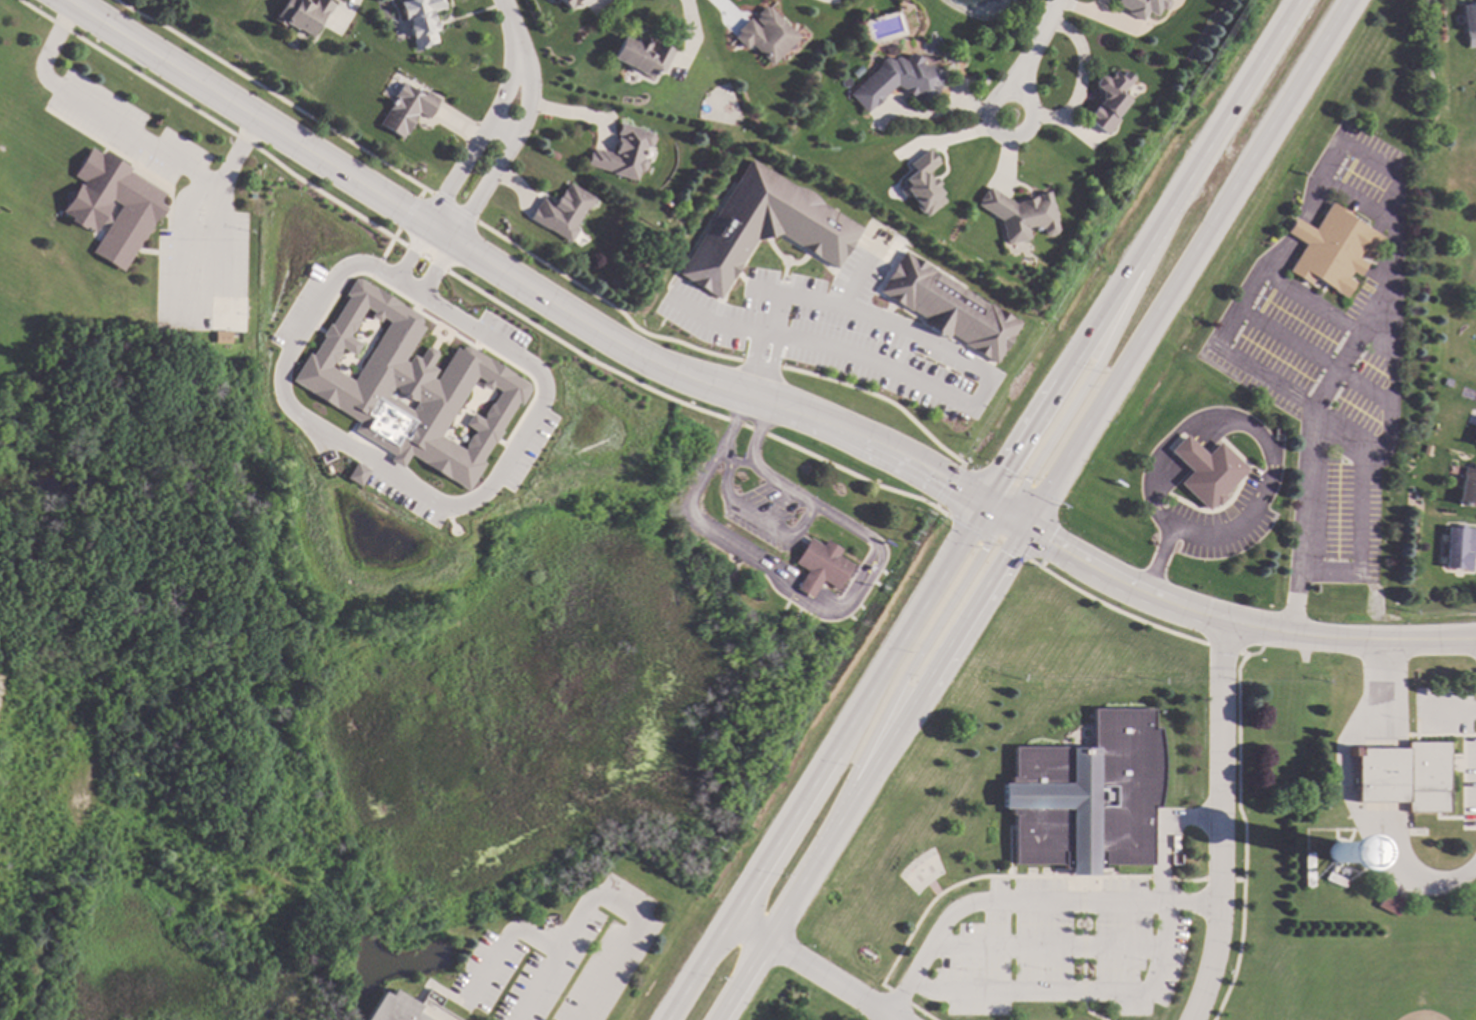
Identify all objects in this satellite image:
building: (566, 2)
building: (1141, 6)
building: (301, 14)
road: (506, 16)
building: (420, 20)
building: (1469, 24)
building: (765, 34)
road: (1033, 48)
building: (642, 55)
building: (896, 80)
road: (271, 94)
building: (1107, 100)
building: (406, 109)
road: (990, 119)
road: (482, 133)
road: (128, 135)
road: (512, 141)
building: (624, 152)
building: (920, 184)
road: (425, 190)
road: (1357, 203)
building: (141, 210)
building: (562, 212)
building: (1018, 214)
building: (764, 227)
road: (1298, 229)
building: (1331, 248)
road: (1137, 251)
road: (1181, 263)
road: (511, 277)
road: (410, 287)
road: (476, 292)
road: (1311, 300)
building: (947, 306)
road: (775, 314)
road: (719, 322)
road: (1393, 336)
building: (222, 338)
road: (753, 361)
road: (1099, 361)
road: (773, 365)
road: (1338, 374)
road: (993, 376)
building: (1445, 380)
building: (409, 387)
road: (1303, 401)
road: (1196, 424)
building: (1475, 438)
road: (738, 463)
building: (1206, 470)
building: (356, 474)
road: (413, 486)
building: (1467, 486)
traffic signals: (983, 504)
road: (747, 512)
road: (1000, 515)
road: (1162, 519)
traffic signals: (1018, 526)
road: (1198, 534)
building: (1459, 547)
building: (820, 567)
building: (729, 576)
road: (1190, 612)
road: (822, 613)
road: (1428, 641)
road: (900, 682)
road: (825, 762)
road: (868, 773)
building: (1403, 775)
building: (1087, 796)
road: (1348, 800)
road: (1220, 822)
park: (1352, 835)
road: (1163, 837)
water tower: (1336, 854)
building: (1307, 860)
building: (1342, 870)
building: (1307, 880)
building: (1334, 880)
road: (606, 894)
road: (997, 902)
building: (1390, 903)
road: (1192, 905)
road: (1075, 925)
road: (1084, 930)
road: (504, 939)
road: (1046, 952)
road: (812, 969)
road: (1151, 979)
park: (1404, 987)
road: (994, 993)
building: (394, 1008)
road: (1085, 1010)
road: (889, 1018)

